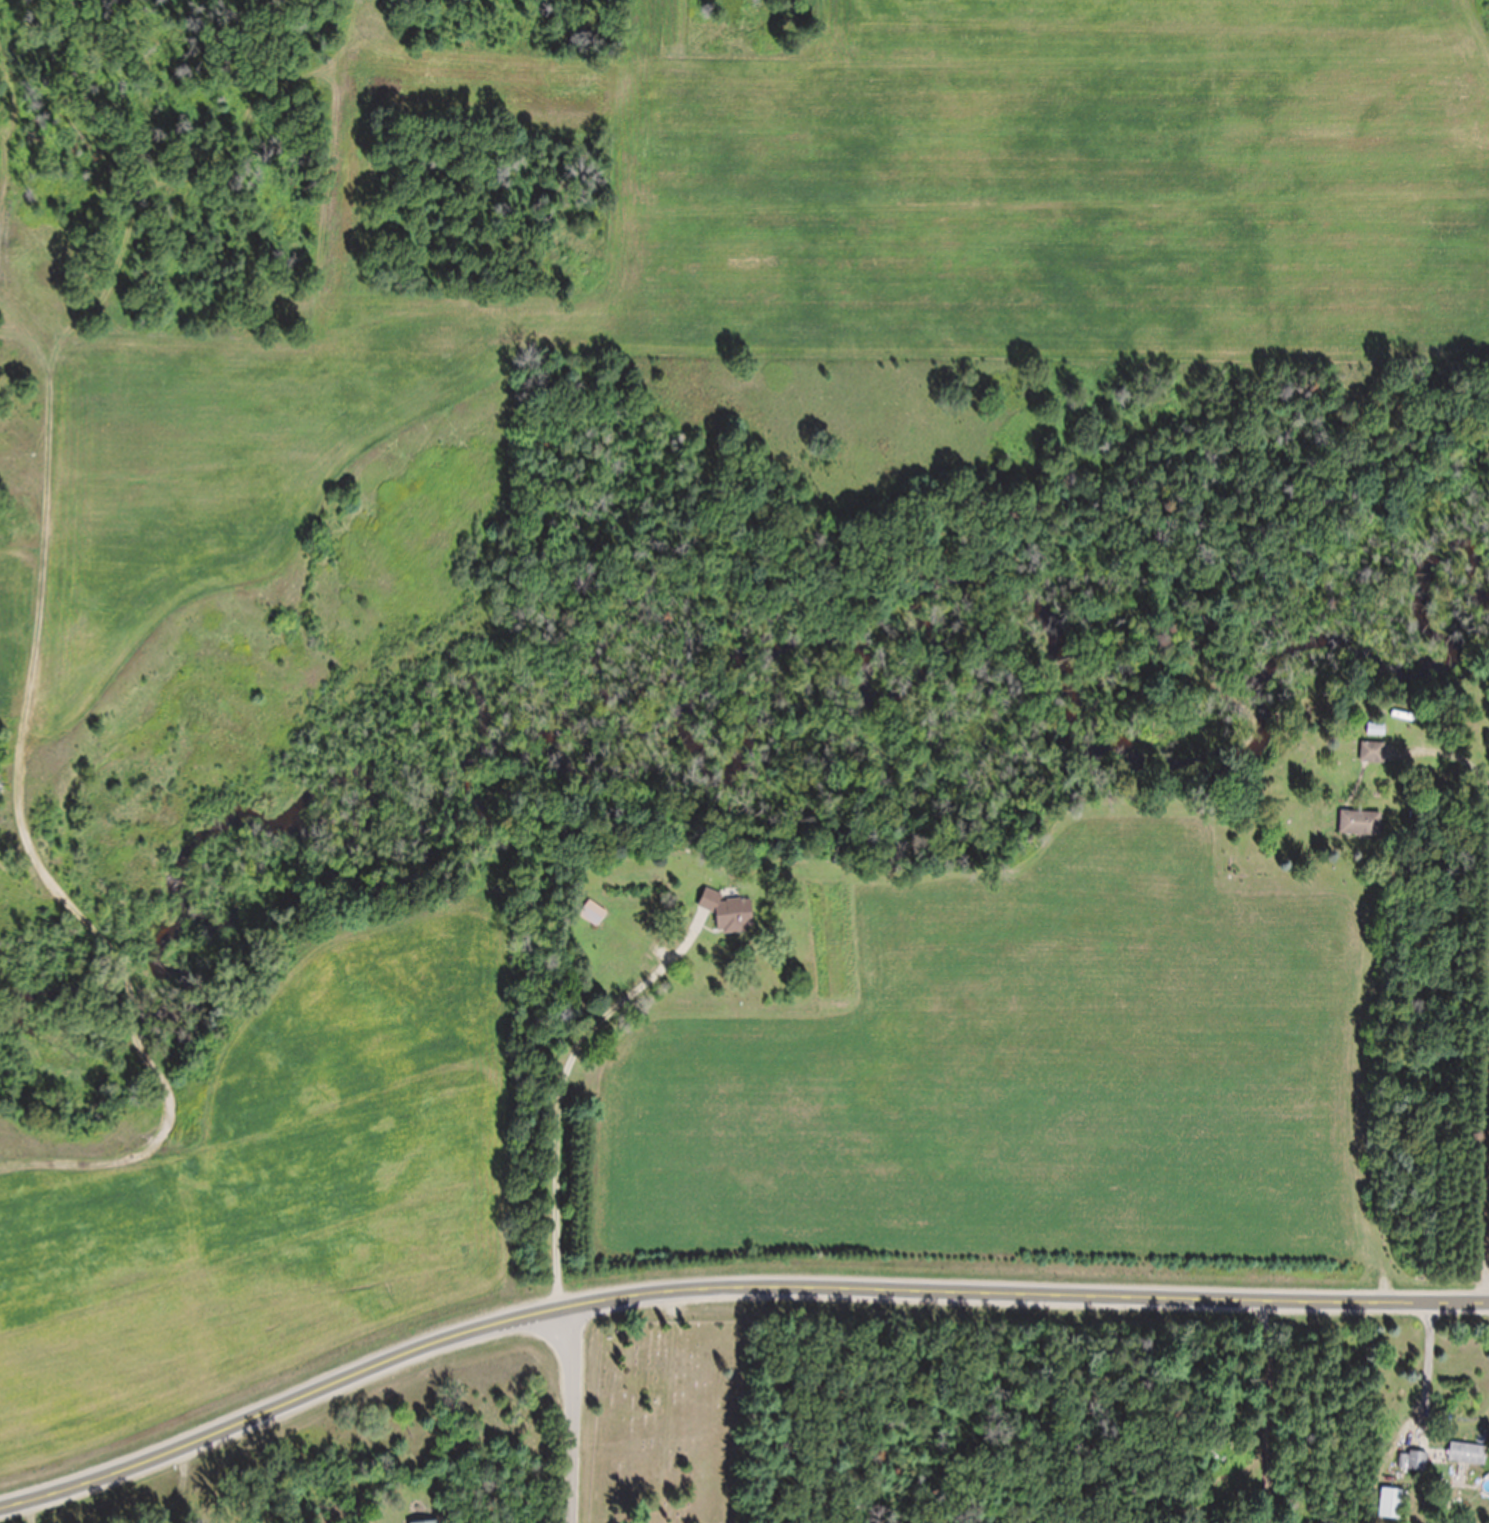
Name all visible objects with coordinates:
building: (1378, 741)
building: (1373, 764)
building: (1362, 835)
building: (595, 925)
building: (733, 925)
road: (728, 1302)
road: (573, 1416)
building: (1470, 1465)
building: (1417, 1472)
building: (1394, 1511)

